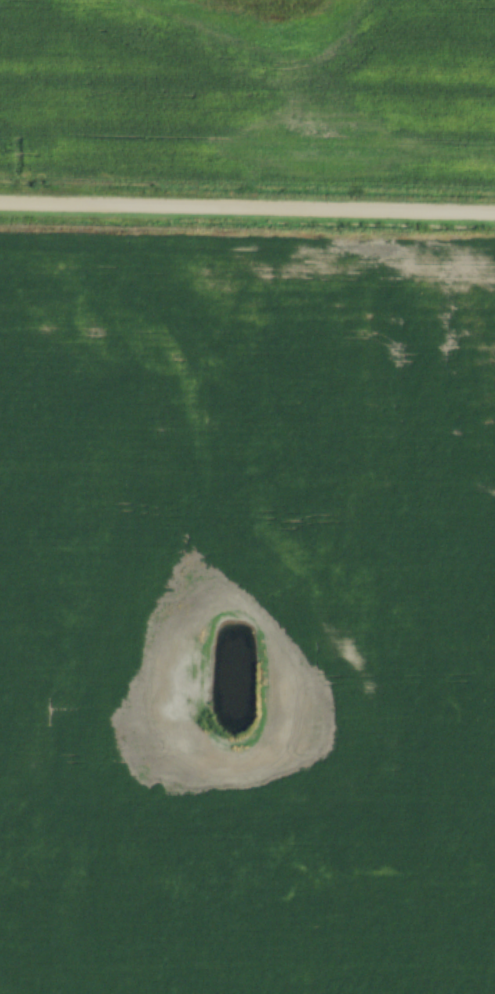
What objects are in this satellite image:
road: (247, 203)

